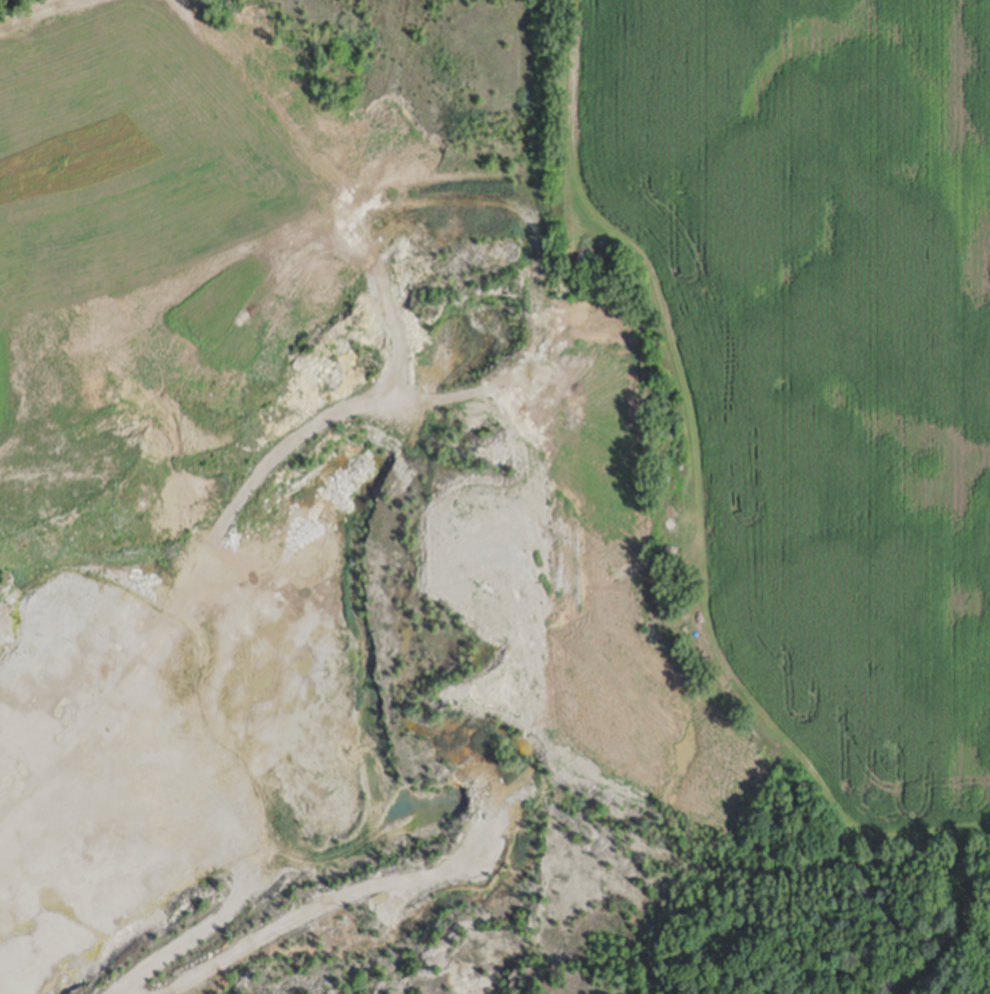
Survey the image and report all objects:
crop: (817, 360)
quarry: (285, 497)

